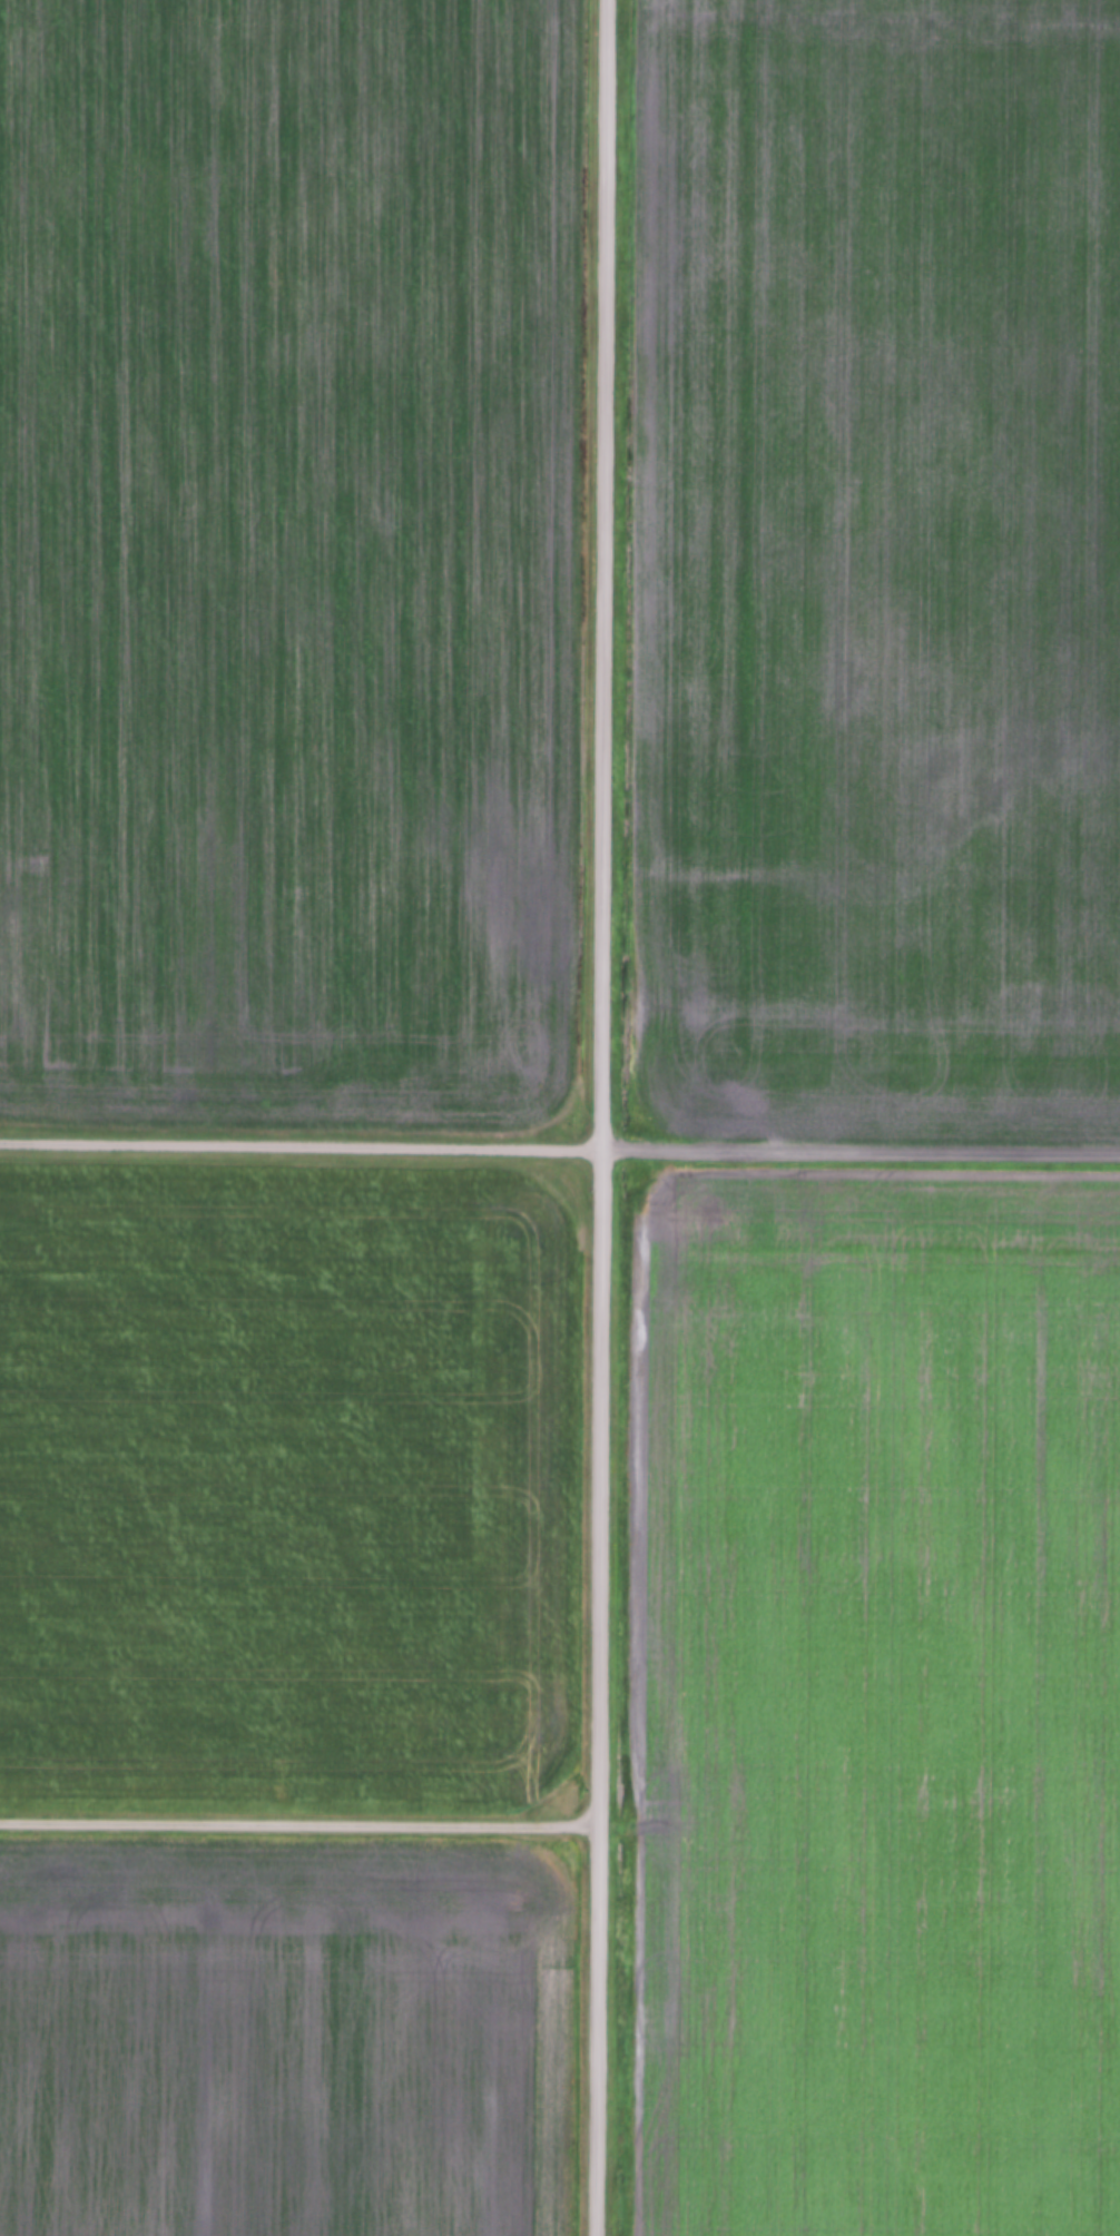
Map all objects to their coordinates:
road: (598, 1117)
road: (298, 1142)
road: (858, 1146)
road: (299, 1801)

